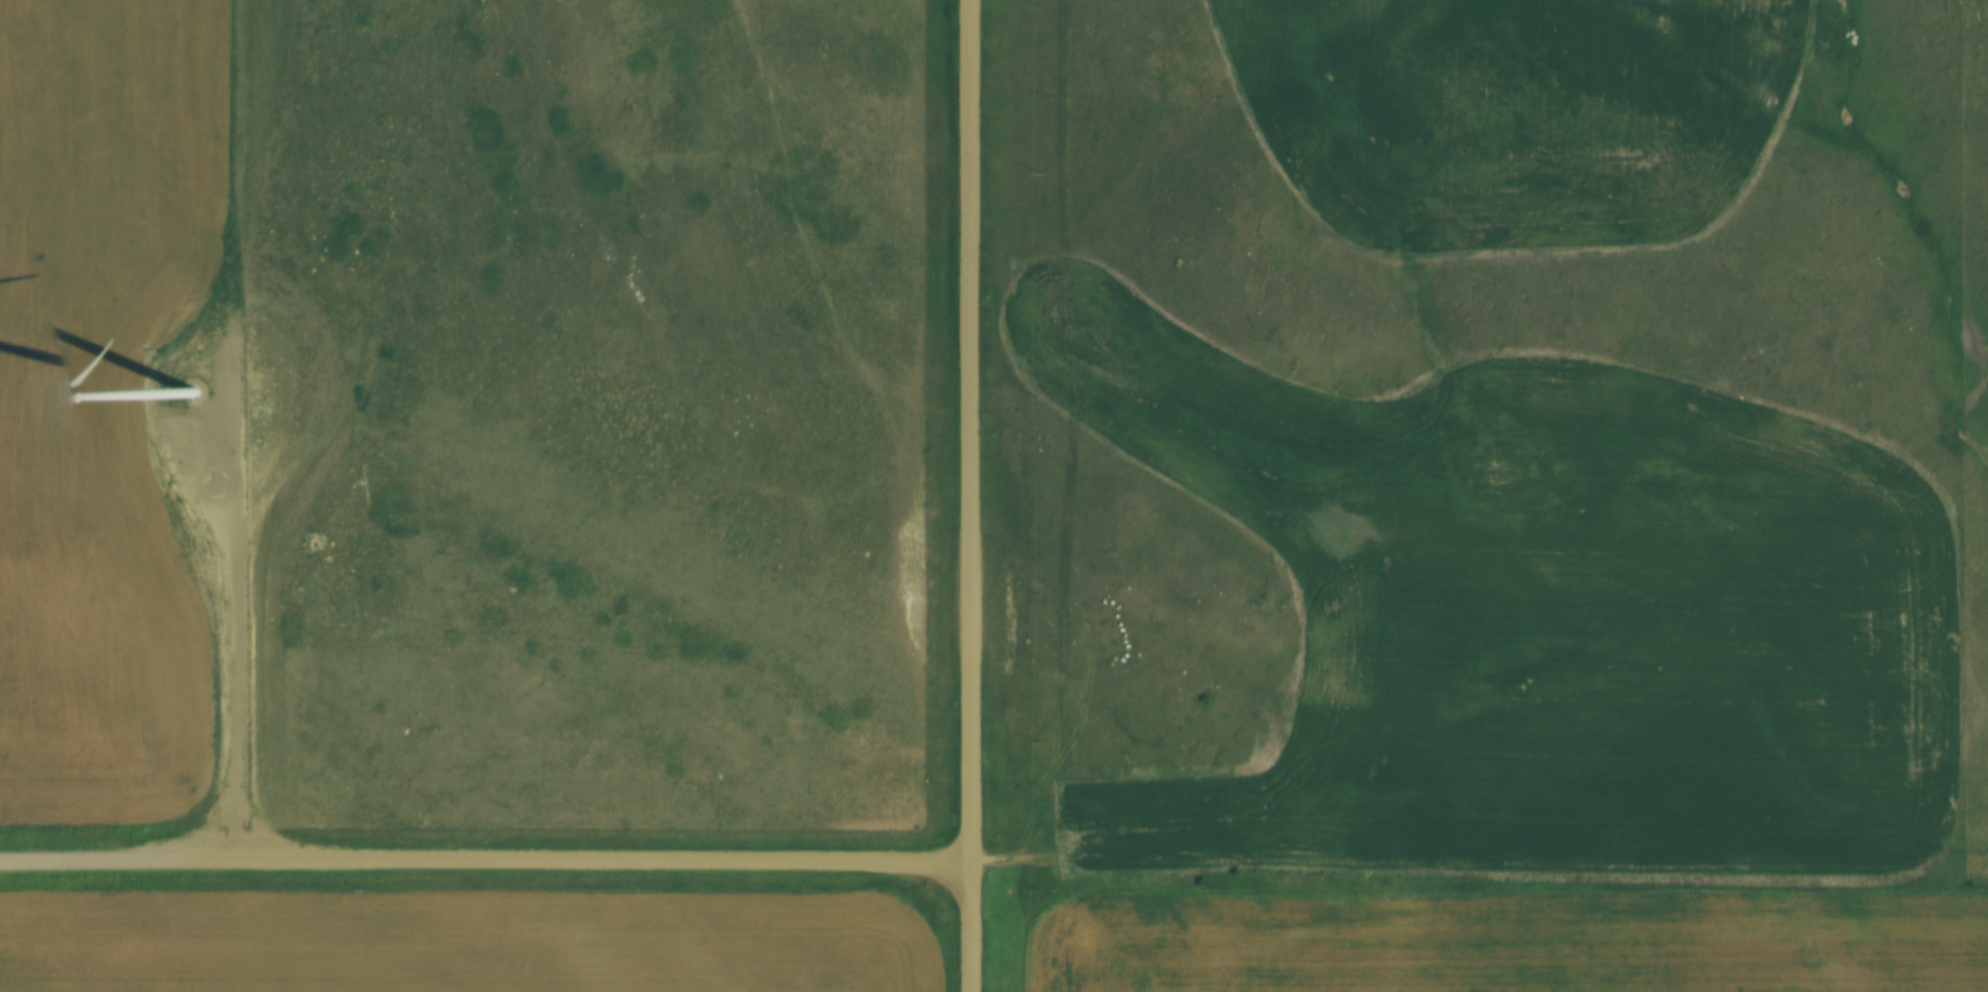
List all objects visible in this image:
wind turbine: (178, 395)
road: (970, 496)
road: (486, 861)

